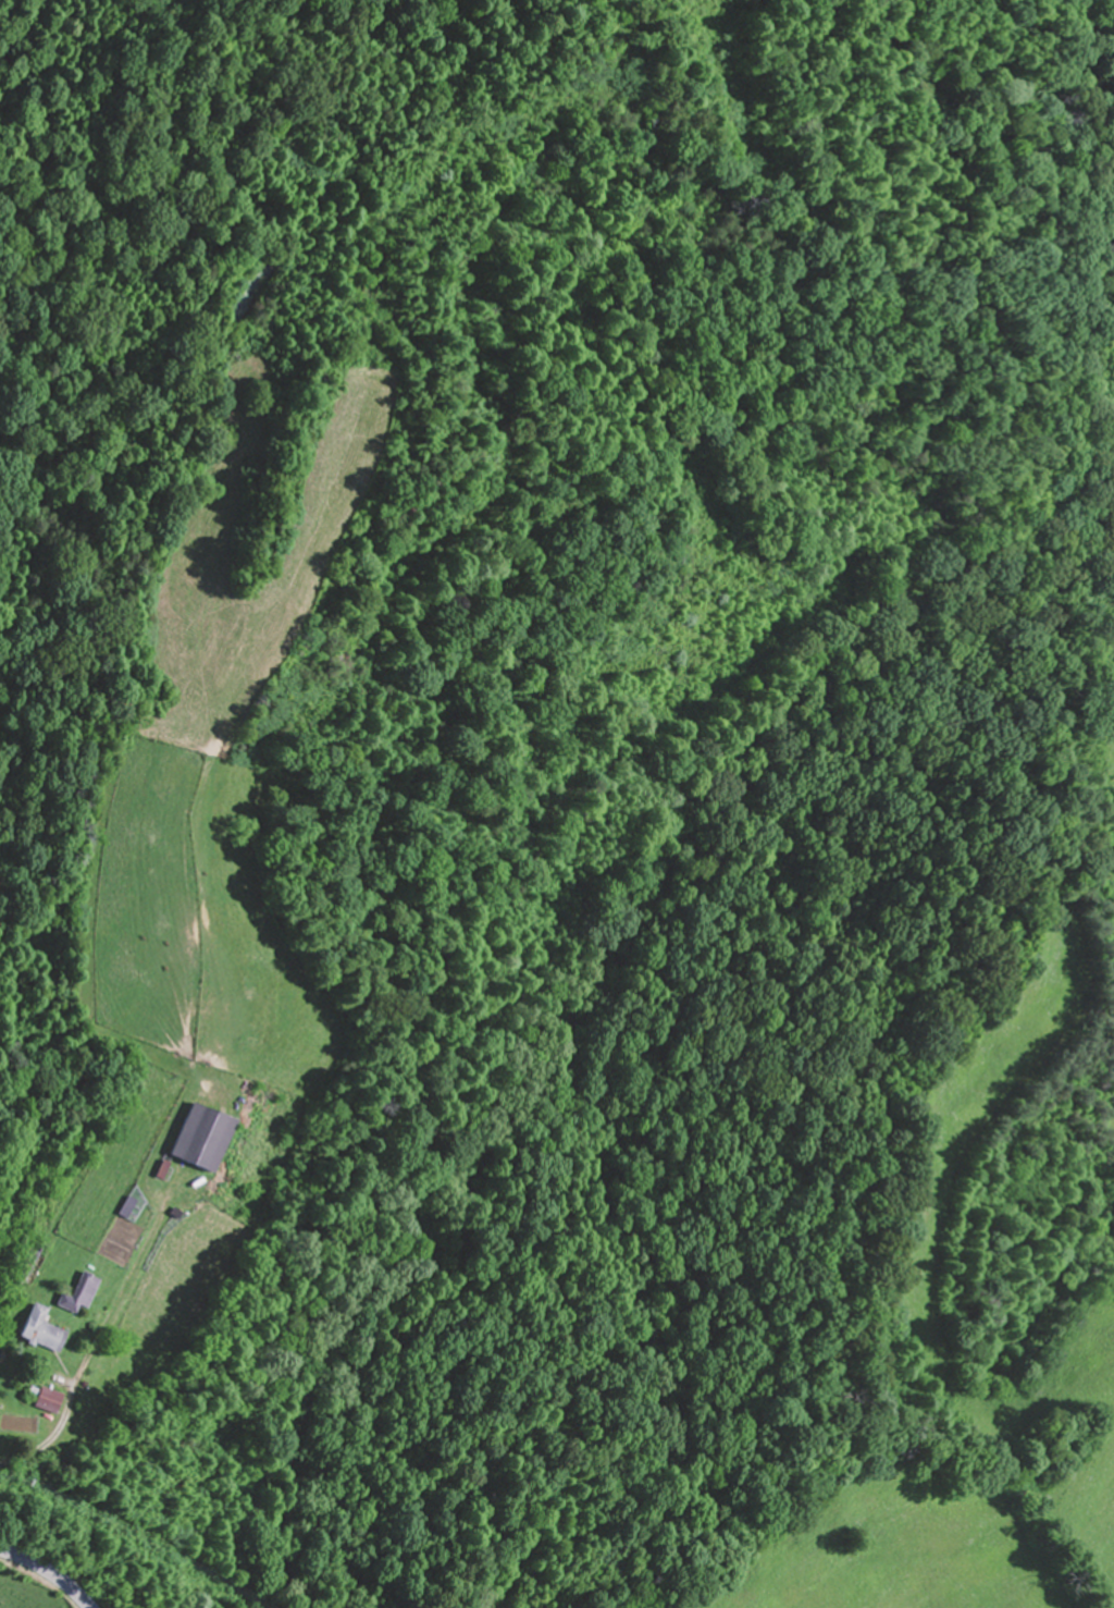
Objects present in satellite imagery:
building: (198, 1138)
building: (40, 1330)
building: (47, 1400)
road: (185, 1522)
road: (46, 1574)

